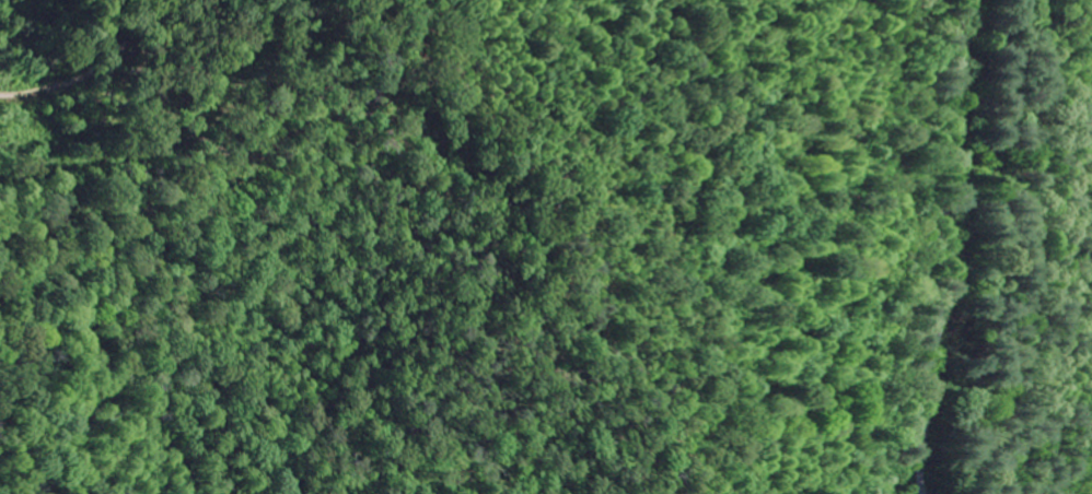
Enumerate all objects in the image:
road: (951, 247)

